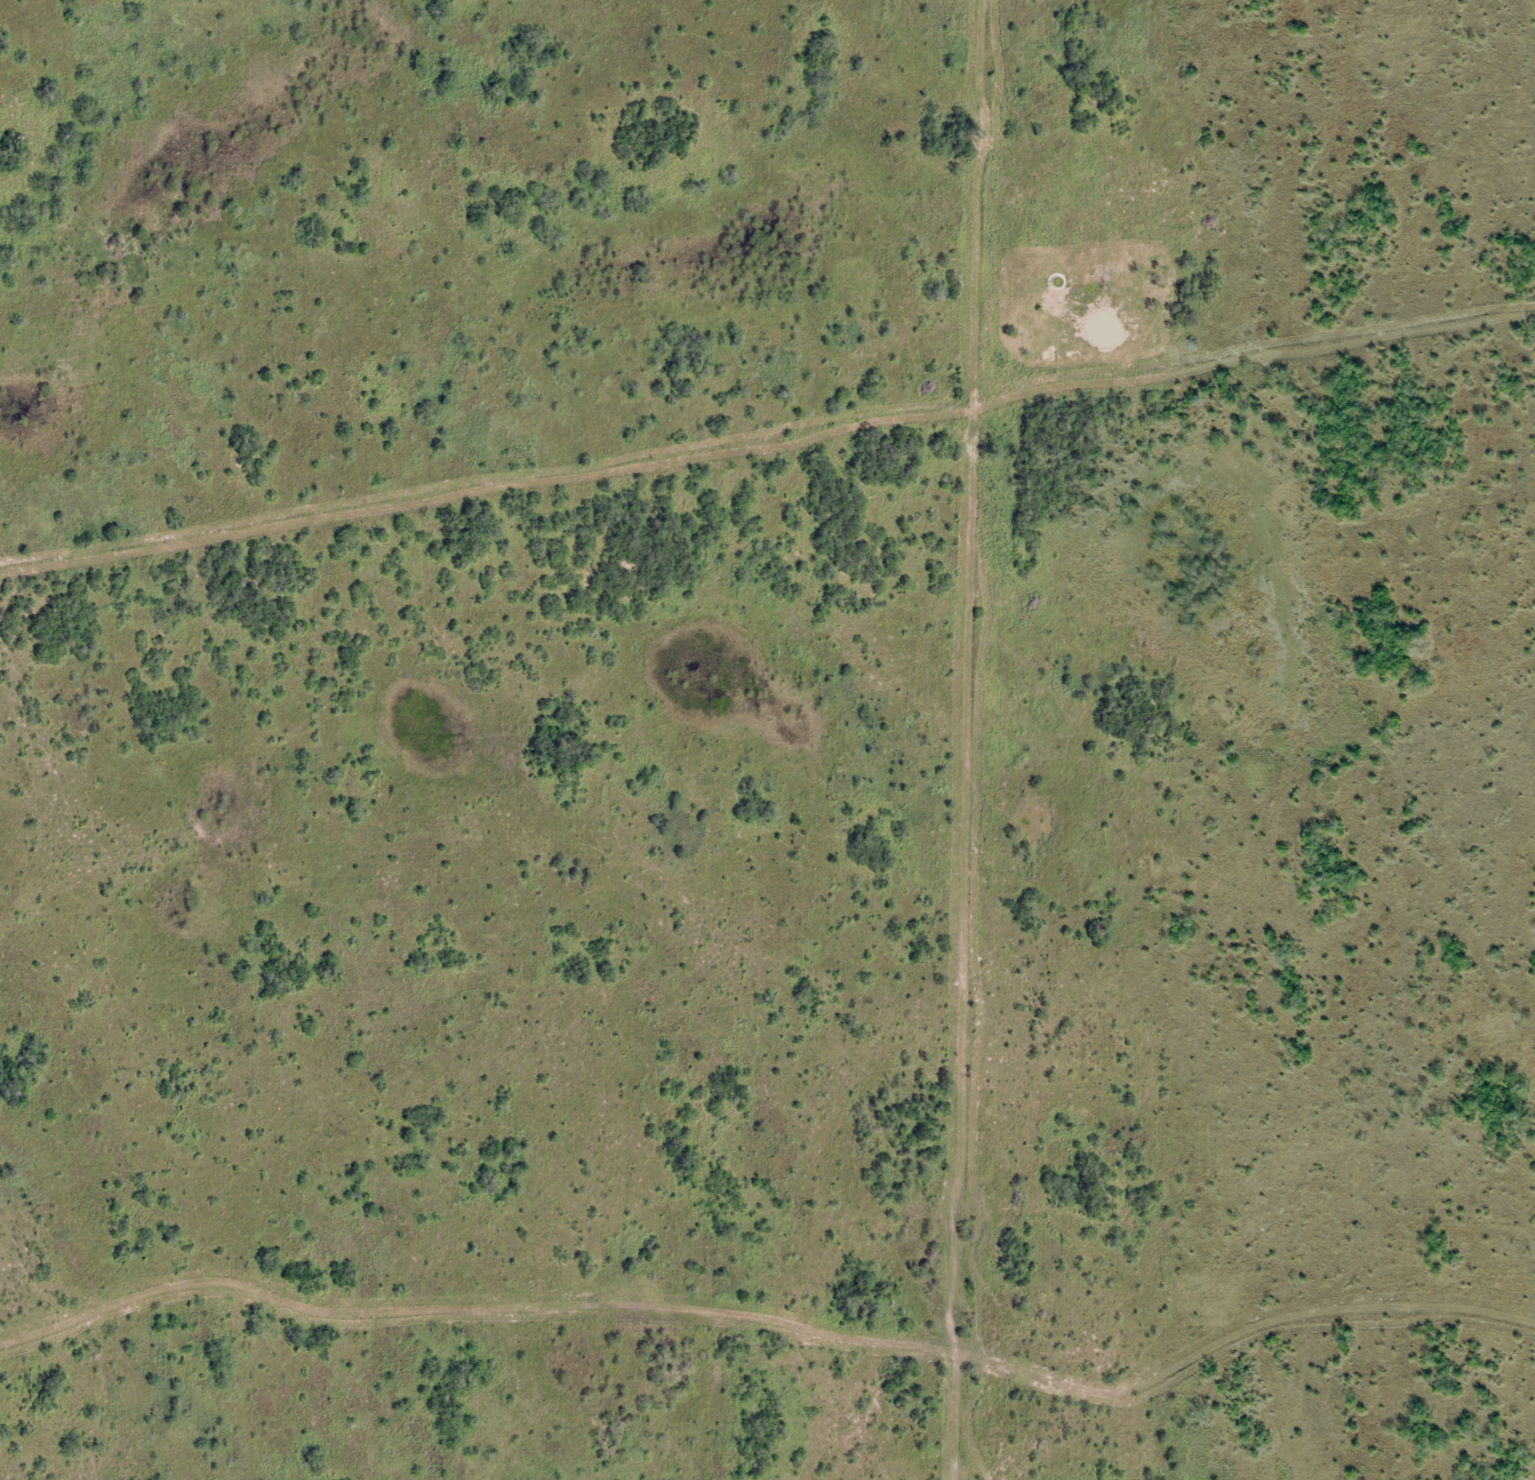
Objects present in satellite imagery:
road: (920, 739)

